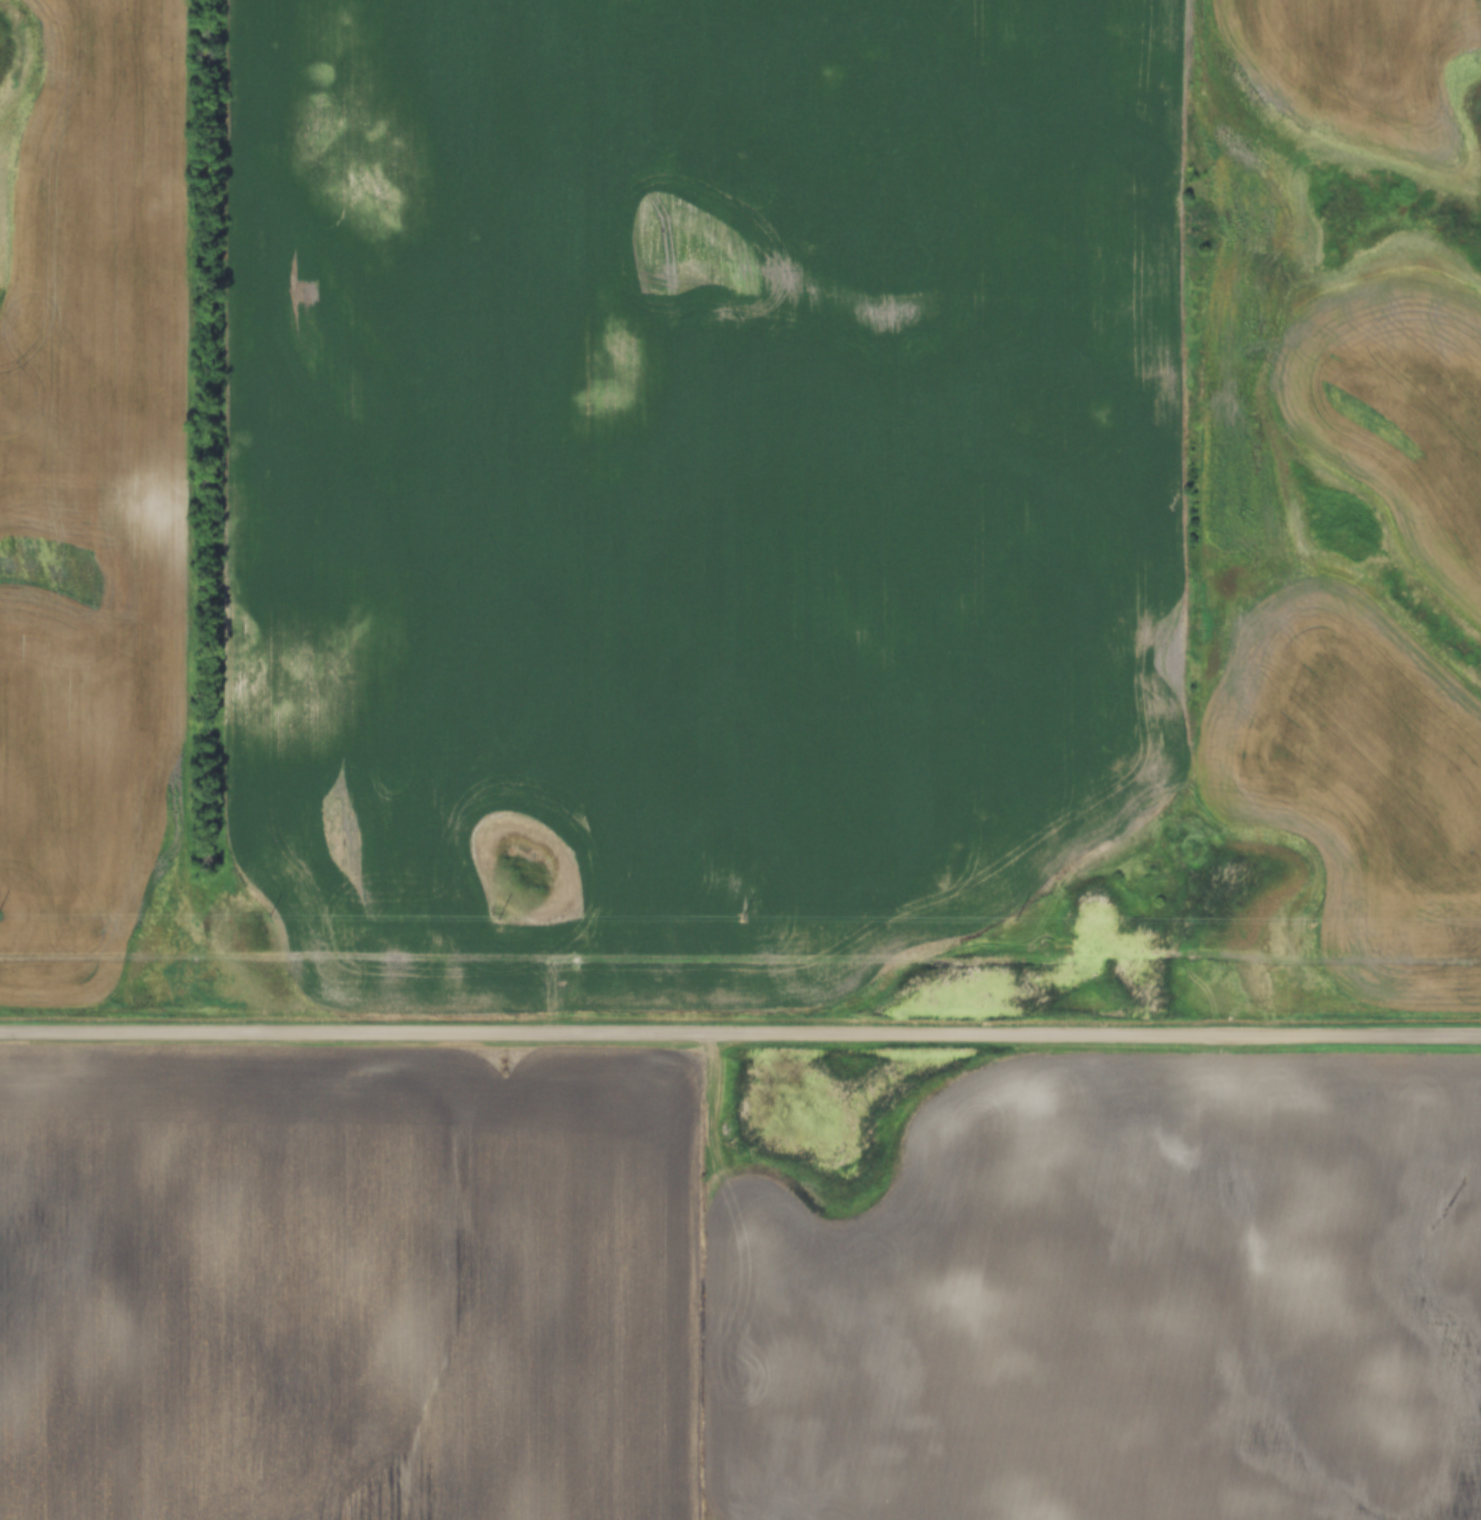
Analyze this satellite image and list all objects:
road: (740, 1038)

